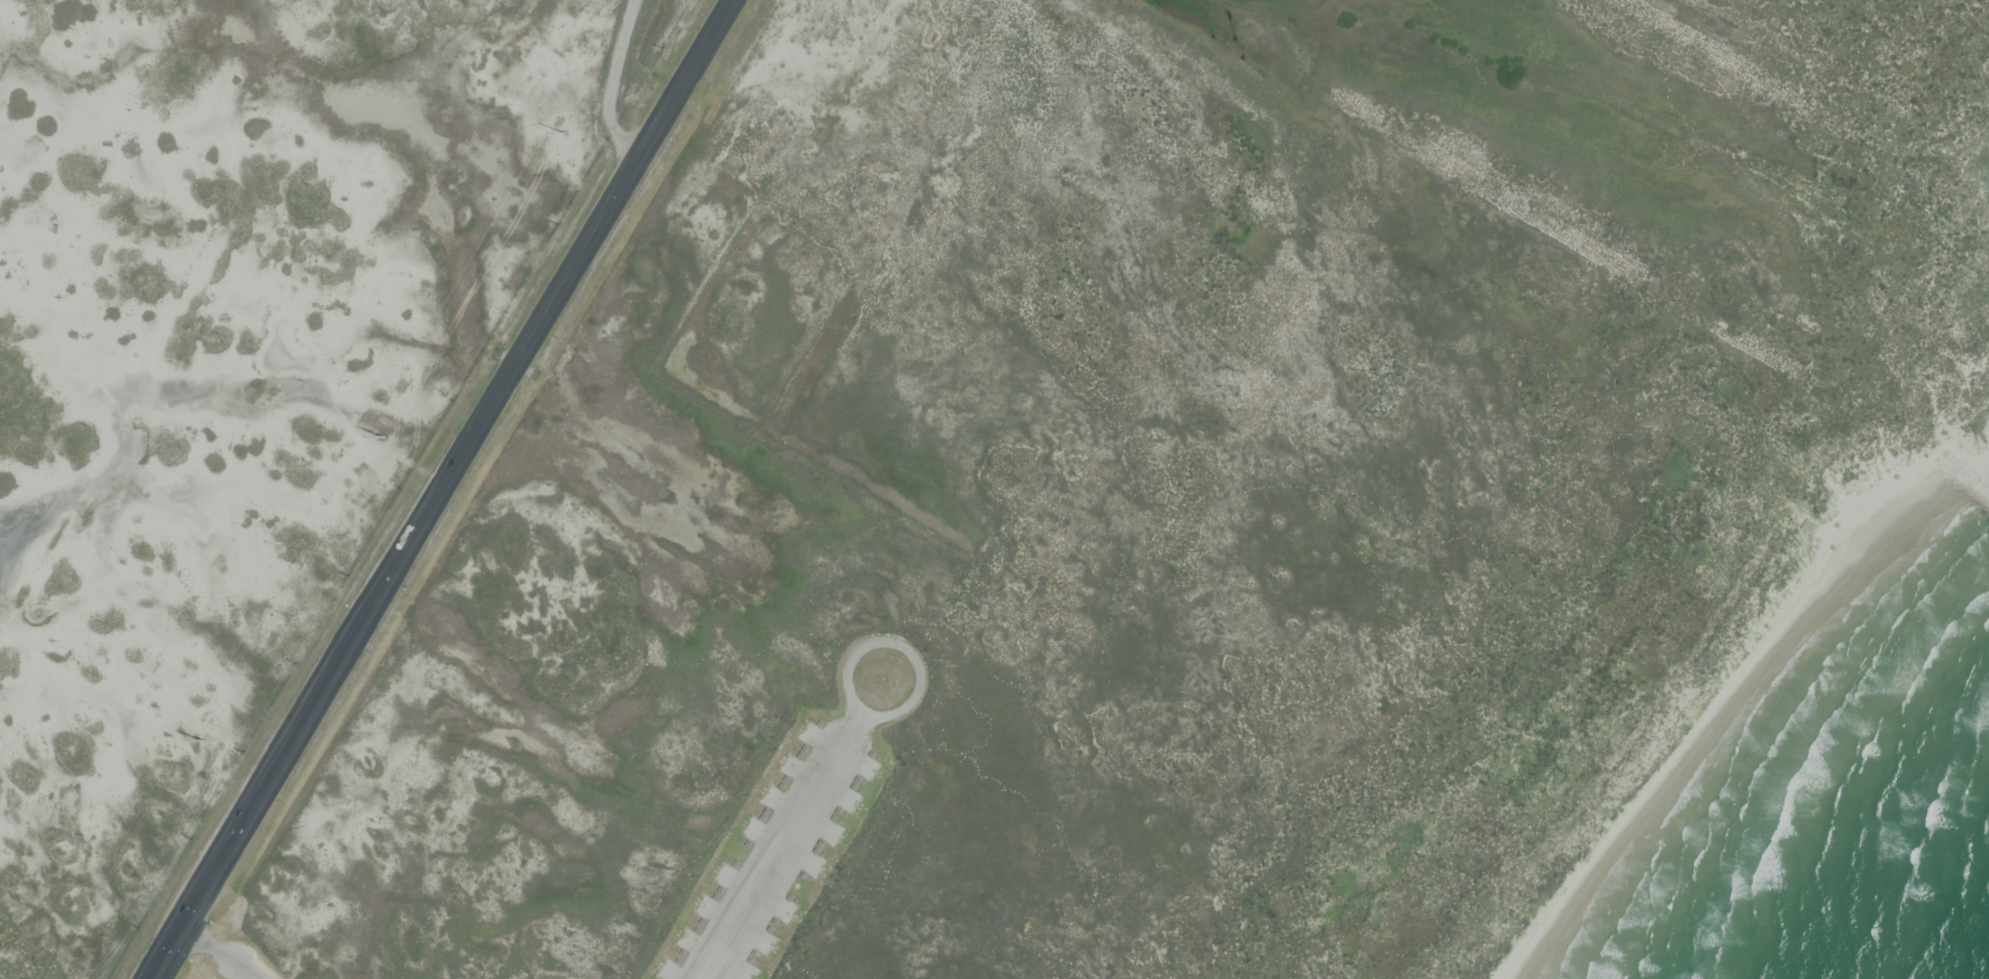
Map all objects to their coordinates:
road: (610, 87)
power tower: (563, 132)
park: (236, 371)
road: (486, 416)
power tower: (381, 433)
park: (1216, 515)
road: (899, 649)
power tower: (200, 739)
road: (781, 846)
road: (211, 883)
road: (219, 954)
road: (168, 956)

